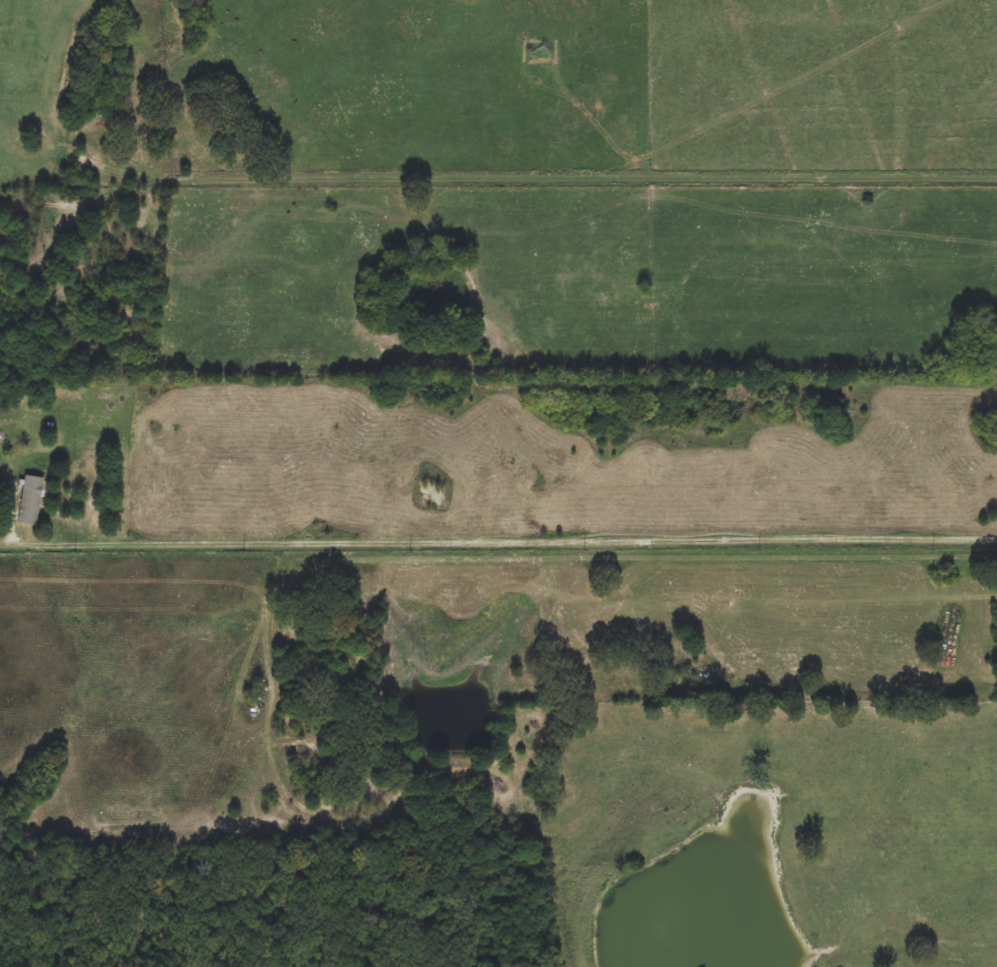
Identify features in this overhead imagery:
building: (30, 501)
road: (498, 540)

